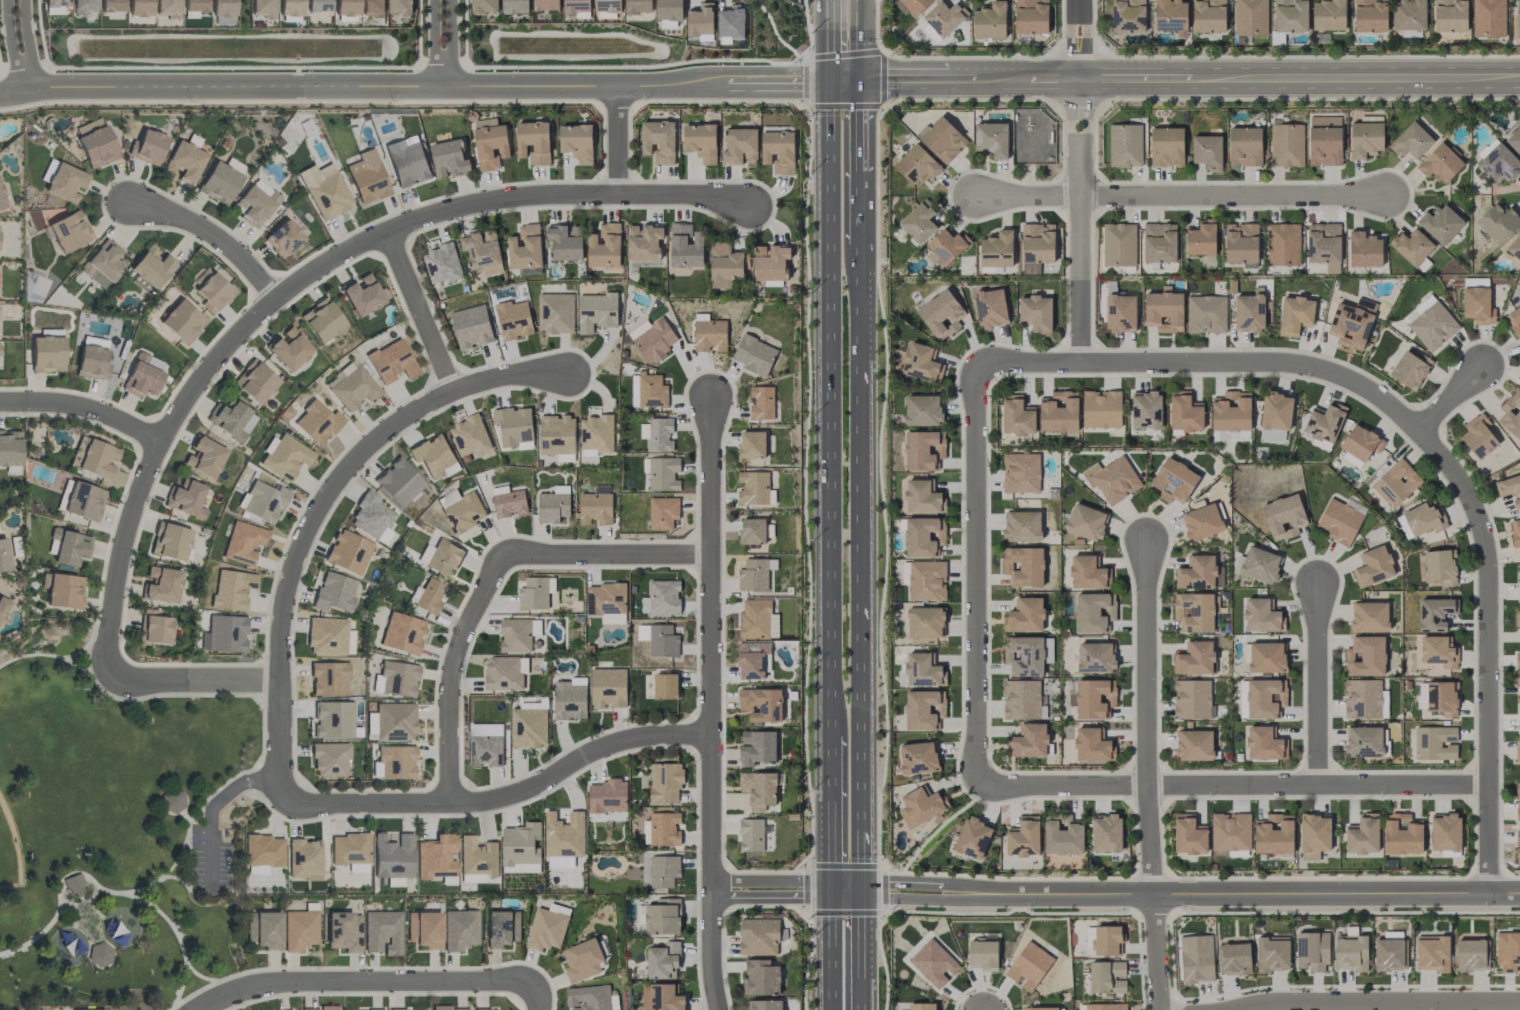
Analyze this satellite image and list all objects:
building: (111, 5)
building: (317, 5)
building: (546, 5)
building: (607, 5)
building: (915, 5)
building: (54, 6)
building: (83, 6)
building: (400, 6)
building: (484, 6)
building: (515, 6)
building: (638, 6)
building: (289, 7)
building: (344, 7)
building: (138, 8)
building: (166, 8)
building: (193, 8)
building: (222, 8)
building: (262, 8)
building: (372, 8)
building: (577, 8)
building: (669, 9)
building: (1170, 15)
building: (1290, 15)
building: (1329, 15)
building: (1370, 15)
building: (1408, 15)
building: (1450, 15)
building: (1031, 16)
building: (1128, 16)
building: (1208, 16)
building: (1250, 17)
building: (1488, 18)
building: (1517, 18)
building: (942, 19)
building: (700, 20)
building: (990, 20)
building: (731, 22)
road: (1079, 41)
road: (431, 42)
road: (828, 42)
road: (862, 42)
road: (453, 44)
road: (26, 45)
road: (11, 47)
road: (1300, 81)
road: (953, 83)
road: (413, 85)
traffic signals: (862, 85)
traffic signals: (827, 86)
road: (862, 127)
building: (1366, 137)
building: (942, 139)
building: (992, 139)
building: (1514, 139)
building: (533, 141)
building: (658, 141)
building: (1411, 141)
building: (94, 142)
building: (490, 142)
building: (576, 142)
road: (618, 142)
building: (700, 142)
building: (1124, 145)
building: (1286, 145)
building: (739, 146)
building: (1244, 146)
building: (147, 147)
building: (1166, 147)
building: (778, 150)
building: (1207, 152)
building: (449, 158)
building: (183, 161)
building: (1440, 163)
building: (1499, 163)
building: (408, 164)
building: (917, 164)
building: (366, 177)
building: (65, 183)
building: (218, 183)
building: (328, 196)
road: (1179, 196)
building: (1, 201)
building: (255, 203)
road: (863, 210)
building: (1498, 222)
building: (918, 223)
road: (1080, 223)
building: (1441, 223)
building: (68, 231)
road: (211, 236)
building: (281, 238)
building: (1201, 238)
building: (644, 241)
building: (564, 242)
building: (1159, 242)
building: (1241, 242)
building: (1323, 242)
building: (1119, 244)
building: (1283, 244)
building: (685, 245)
building: (604, 246)
building: (1036, 246)
building: (1411, 246)
building: (1514, 247)
building: (525, 248)
building: (997, 249)
building: (1364, 250)
building: (771, 262)
building: (102, 264)
building: (442, 264)
building: (724, 265)
building: (149, 268)
road: (303, 280)
building: (212, 292)
building: (360, 295)
building: (1424, 304)
building: (1477, 305)
building: (990, 307)
building: (1164, 310)
building: (596, 311)
building: (1249, 311)
road: (420, 312)
building: (1036, 312)
building: (555, 313)
building: (1121, 313)
building: (941, 314)
building: (1207, 314)
building: (1295, 315)
building: (513, 319)
building: (321, 320)
building: (1514, 320)
building: (181, 321)
building: (1352, 323)
building: (471, 326)
building: (1433, 326)
building: (710, 335)
building: (655, 340)
building: (288, 349)
building: (47, 354)
building: (754, 355)
building: (390, 361)
building: (919, 362)
building: (91, 363)
building: (1410, 369)
building: (142, 375)
building: (254, 381)
building: (352, 387)
building: (651, 390)
road: (1449, 401)
building: (761, 402)
road: (82, 408)
building: (1101, 409)
building: (1146, 409)
building: (922, 410)
building: (1059, 411)
building: (1231, 411)
building: (1276, 411)
building: (1185, 412)
building: (1511, 414)
building: (1017, 417)
building: (230, 420)
road: (826, 421)
building: (1325, 421)
building: (316, 422)
building: (513, 425)
building: (596, 433)
building: (658, 433)
building: (469, 435)
building: (557, 435)
building: (1229, 435)
building: (1478, 436)
road: (1424, 441)
building: (1360, 442)
building: (752, 444)
building: (9, 448)
building: (924, 450)
building: (203, 456)
building: (283, 457)
building: (434, 457)
building: (97, 459)
building: (1021, 472)
building: (662, 473)
building: (1112, 479)
building: (1173, 481)
building: (397, 482)
building: (1396, 483)
building: (754, 488)
building: (1510, 488)
building: (922, 497)
building: (79, 499)
building: (185, 499)
building: (262, 501)
building: (509, 503)
building: (552, 507)
building: (595, 508)
building: (461, 510)
road: (318, 512)
building: (663, 512)
building: (371, 517)
building: (1284, 517)
building: (1424, 519)
building: (1338, 521)
building: (1086, 522)
building: (1202, 522)
building: (1022, 526)
building: (752, 531)
building: (1515, 532)
building: (922, 537)
building: (169, 541)
building: (242, 542)
building: (67, 546)
building: (347, 552)
building: (3, 556)
building: (443, 557)
building: (1260, 564)
building: (1023, 566)
building: (1374, 566)
building: (1440, 566)
building: (1086, 572)
road: (864, 573)
building: (1198, 573)
building: (754, 574)
road: (976, 576)
road: (492, 580)
building: (927, 580)
building: (1519, 582)
building: (160, 584)
building: (230, 589)
building: (62, 590)
building: (333, 592)
building: (535, 593)
building: (430, 596)
building: (661, 597)
building: (605, 598)
building: (2, 605)
building: (1194, 612)
building: (1024, 615)
building: (1261, 616)
building: (1369, 617)
building: (1517, 618)
building: (757, 620)
building: (925, 622)
building: (153, 627)
building: (401, 633)
building: (225, 634)
building: (518, 634)
building: (328, 636)
building: (663, 641)
building: (1436, 653)
building: (1024, 656)
building: (1365, 656)
building: (1266, 657)
building: (1095, 658)
building: (1194, 658)
building: (1517, 659)
building: (753, 660)
building: (922, 670)
building: (505, 672)
building: (327, 678)
building: (1517, 678)
building: (395, 679)
road: (192, 681)
road: (1318, 685)
building: (665, 686)
building: (608, 687)
building: (1437, 697)
building: (1094, 698)
building: (1265, 698)
building: (1362, 698)
building: (569, 699)
building: (1021, 699)
building: (1192, 699)
road: (712, 704)
building: (761, 704)
building: (922, 709)
building: (1519, 713)
building: (393, 720)
road: (1147, 720)
building: (528, 727)
building: (1028, 741)
building: (1363, 741)
building: (1263, 743)
building: (1435, 743)
building: (1091, 745)
building: (1193, 745)
building: (757, 747)
building: (485, 750)
building: (1517, 751)
building: (919, 758)
building: (329, 759)
building: (665, 782)
road: (1233, 786)
building: (758, 789)
building: (606, 796)
road: (503, 798)
building: (171, 801)
building: (1517, 801)
road: (211, 807)
road: (824, 827)
building: (664, 828)
building: (1445, 831)
building: (1231, 832)
park: (117, 833)
building: (1105, 833)
building: (564, 834)
building: (1274, 834)
building: (1402, 834)
building: (751, 835)
building: (1189, 835)
building: (1314, 835)
building: (1362, 835)
building: (973, 837)
building: (1023, 837)
building: (1063, 837)
building: (1517, 837)
building: (521, 848)
building: (263, 850)
building: (349, 851)
park: (9, 852)
building: (1517, 855)
building: (391, 856)
building: (435, 857)
building: (477, 857)
building: (303, 859)
parking lot: (208, 861)
road: (768, 881)
traffic signals: (824, 881)
traffic signals: (864, 881)
road: (913, 881)
building: (73, 883)
road: (1261, 895)
road: (768, 897)
traffic signals: (824, 897)
traffic signals: (864, 898)
road: (913, 898)
building: (662, 916)
building: (547, 927)
building: (264, 929)
building: (299, 929)
building: (423, 929)
building: (498, 929)
building: (460, 930)
building: (341, 931)
building: (381, 932)
building: (758, 936)
building: (1107, 939)
building: (1312, 951)
building: (1350, 951)
building: (1507, 951)
road: (824, 953)
road: (1155, 953)
building: (1272, 953)
building: (1432, 953)
building: (99, 954)
road: (864, 954)
building: (1389, 954)
building: (983, 955)
building: (1471, 955)
building: (1234, 958)
building: (1196, 959)
building: (582, 960)
building: (662, 960)
building: (933, 963)
building: (1028, 966)
building: (1106, 977)
building: (761, 978)
road: (365, 982)
road: (537, 996)
building: (661, 997)
building: (588, 998)
building: (614, 1002)
road: (1375, 1002)
building: (764, 1005)
building: (921, 1006)
building: (1105, 1006)
road: (1404, 1006)
building: (324, 1007)
building: (444, 1008)
building: (1039, 1008)
building: (84, 1009)
building: (368, 1009)
building: (396, 1009)
building: (481, 1009)

